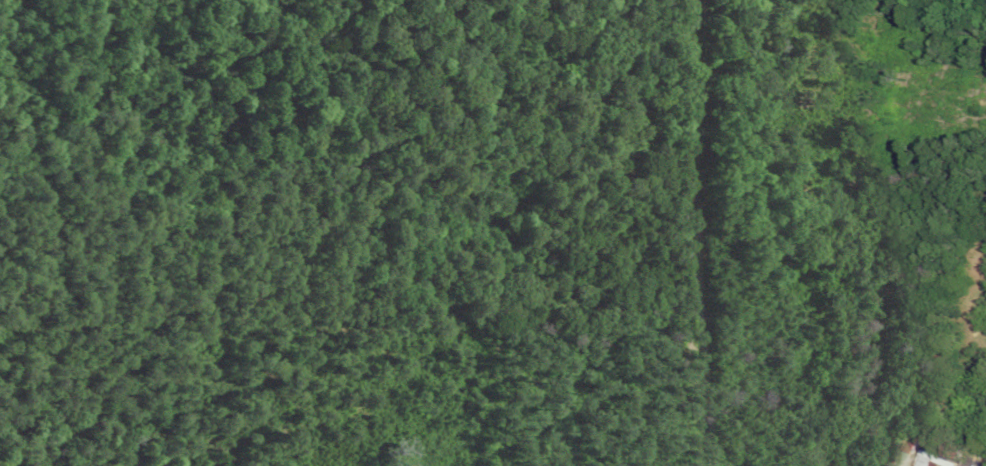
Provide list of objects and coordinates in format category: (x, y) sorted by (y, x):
building: (933, 460)
building: (976, 465)

